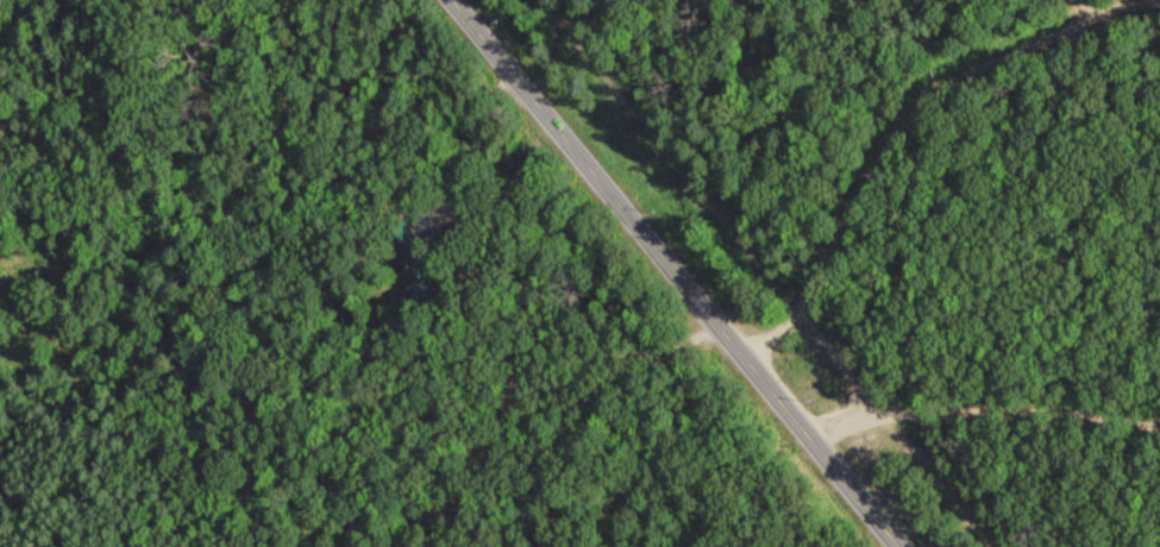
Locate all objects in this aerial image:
road: (676, 273)

